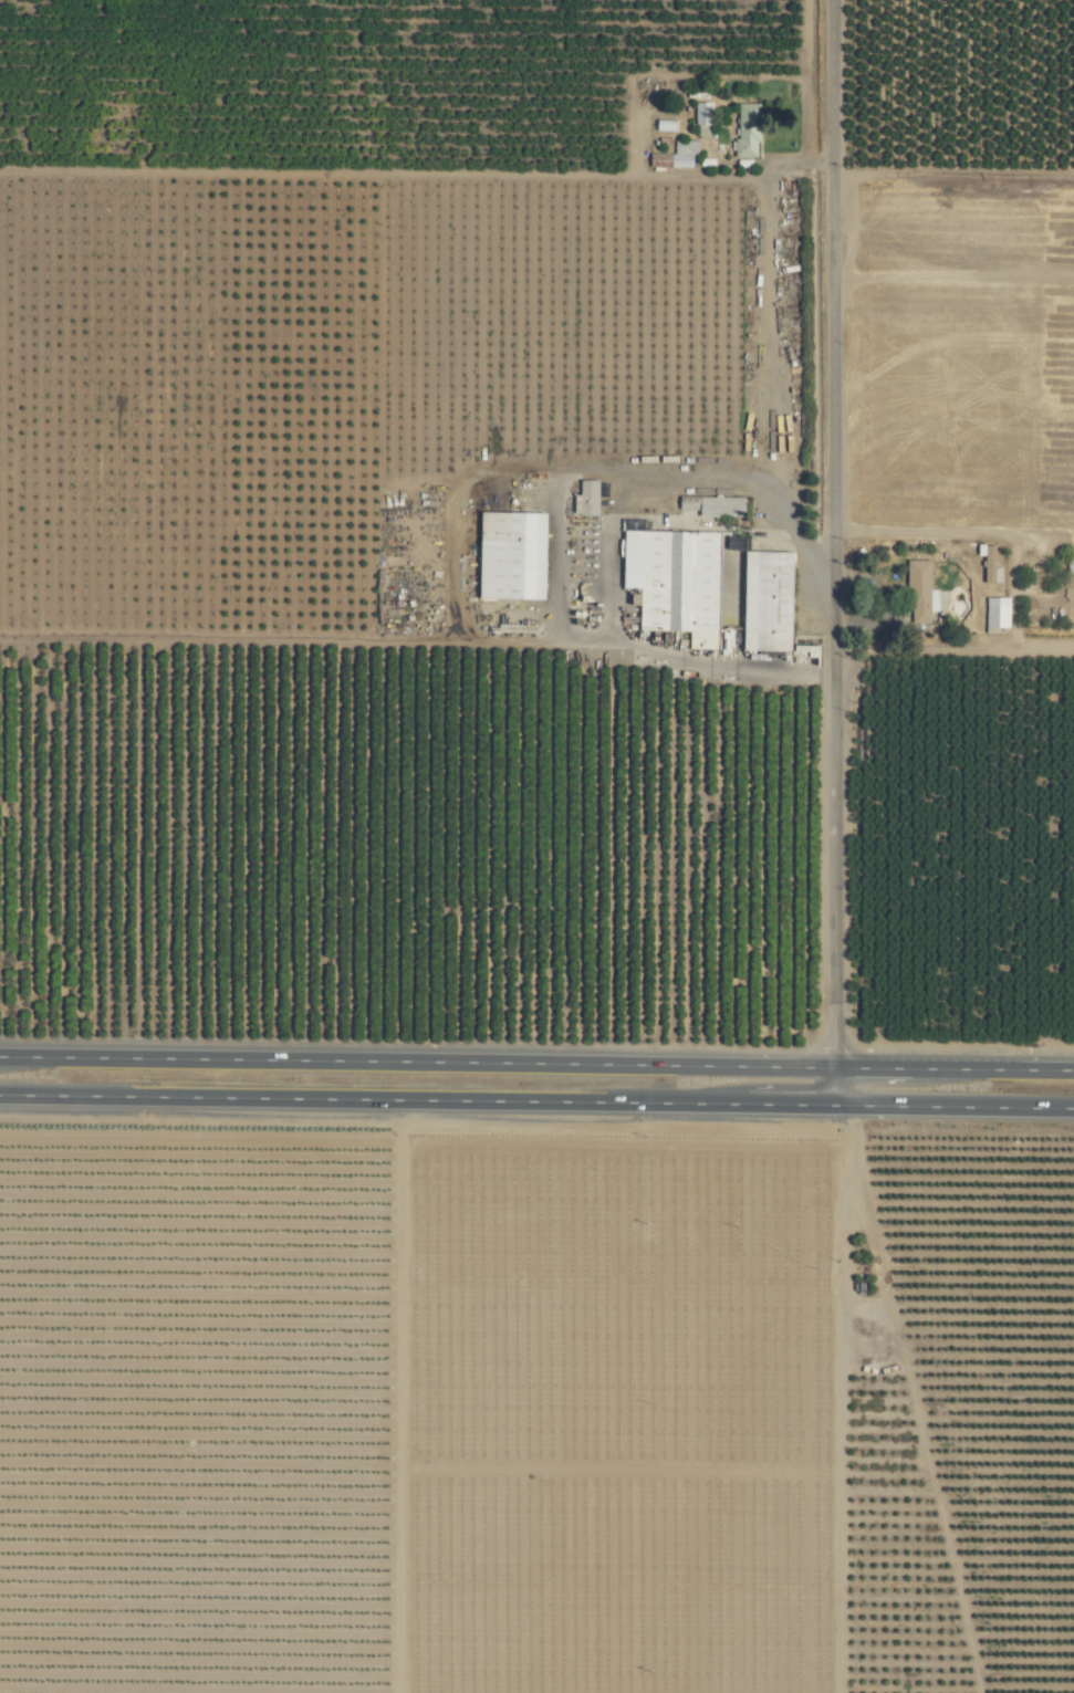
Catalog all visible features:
building: (701, 119)
building: (745, 130)
building: (675, 155)
road: (710, 178)
road: (767, 333)
road: (476, 474)
building: (587, 497)
building: (719, 505)
road: (833, 552)
building: (509, 554)
building: (1071, 564)
building: (989, 566)
building: (672, 581)
building: (918, 592)
building: (765, 600)
building: (995, 613)
road: (712, 673)
road: (781, 673)
road: (824, 675)
crop: (536, 846)
road: (416, 1062)
road: (872, 1067)
road: (992, 1068)
road: (373, 1098)
road: (789, 1104)
road: (953, 1106)

